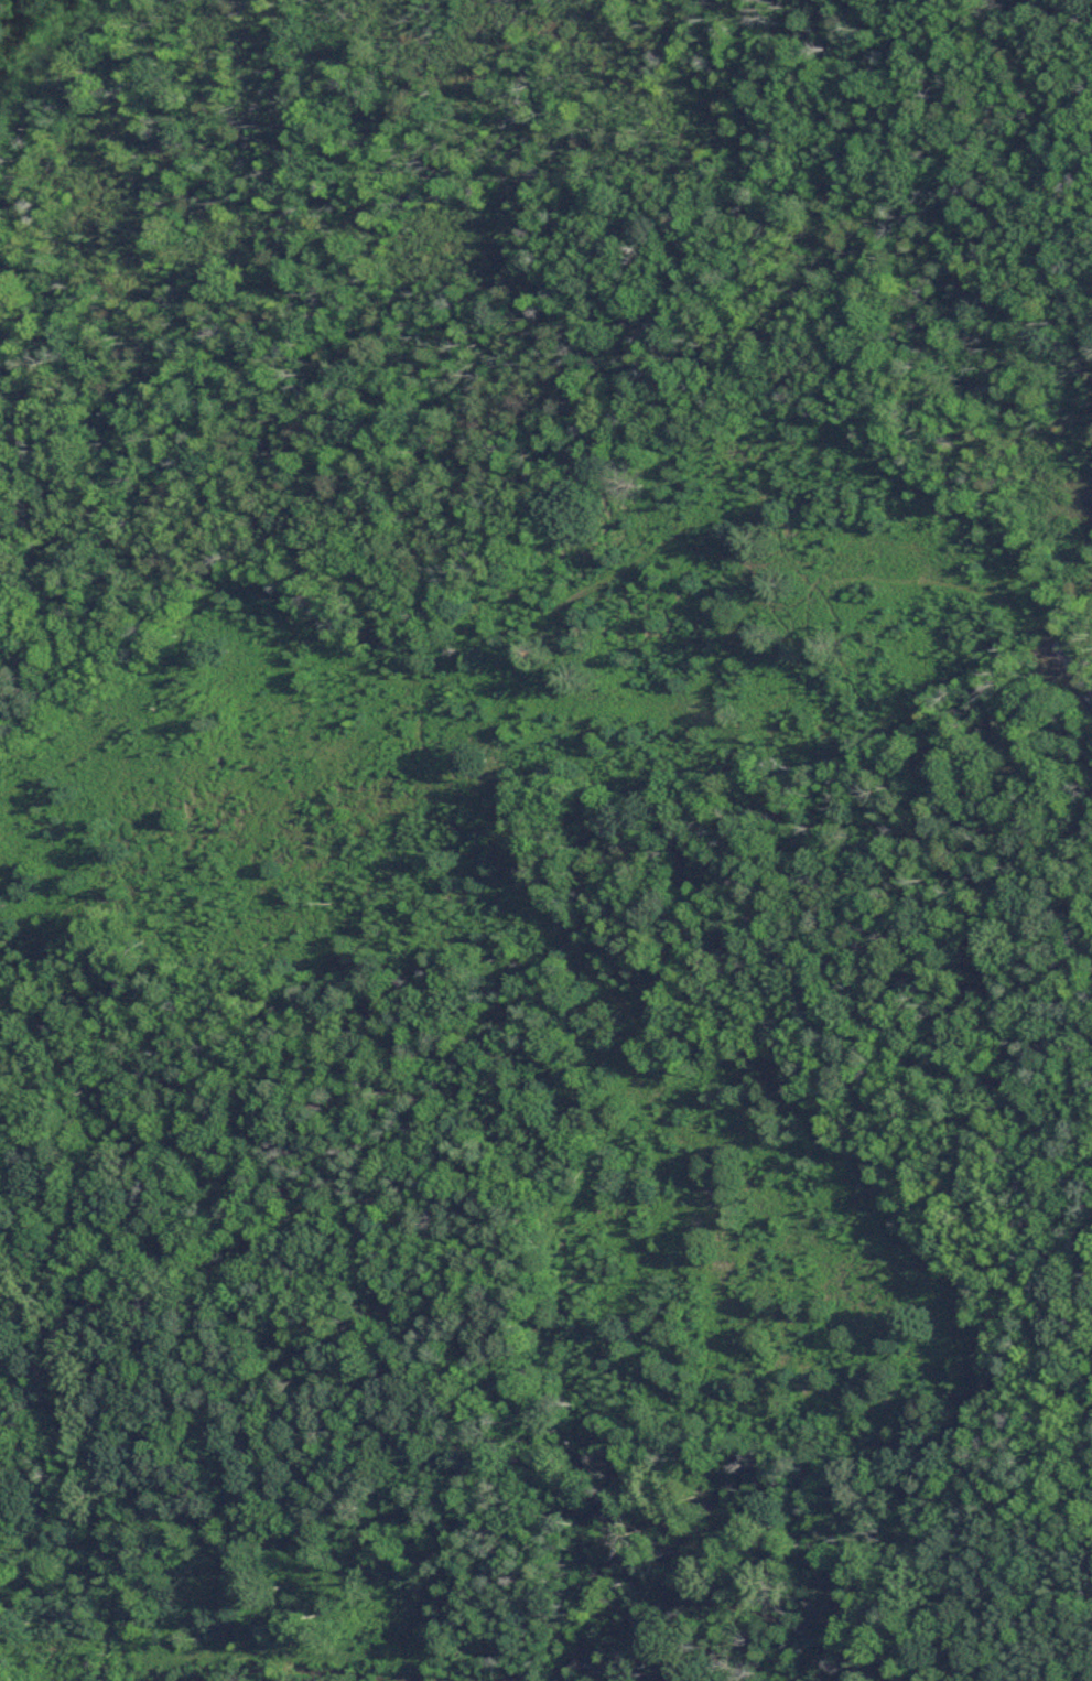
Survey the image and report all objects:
road: (556, 606)

